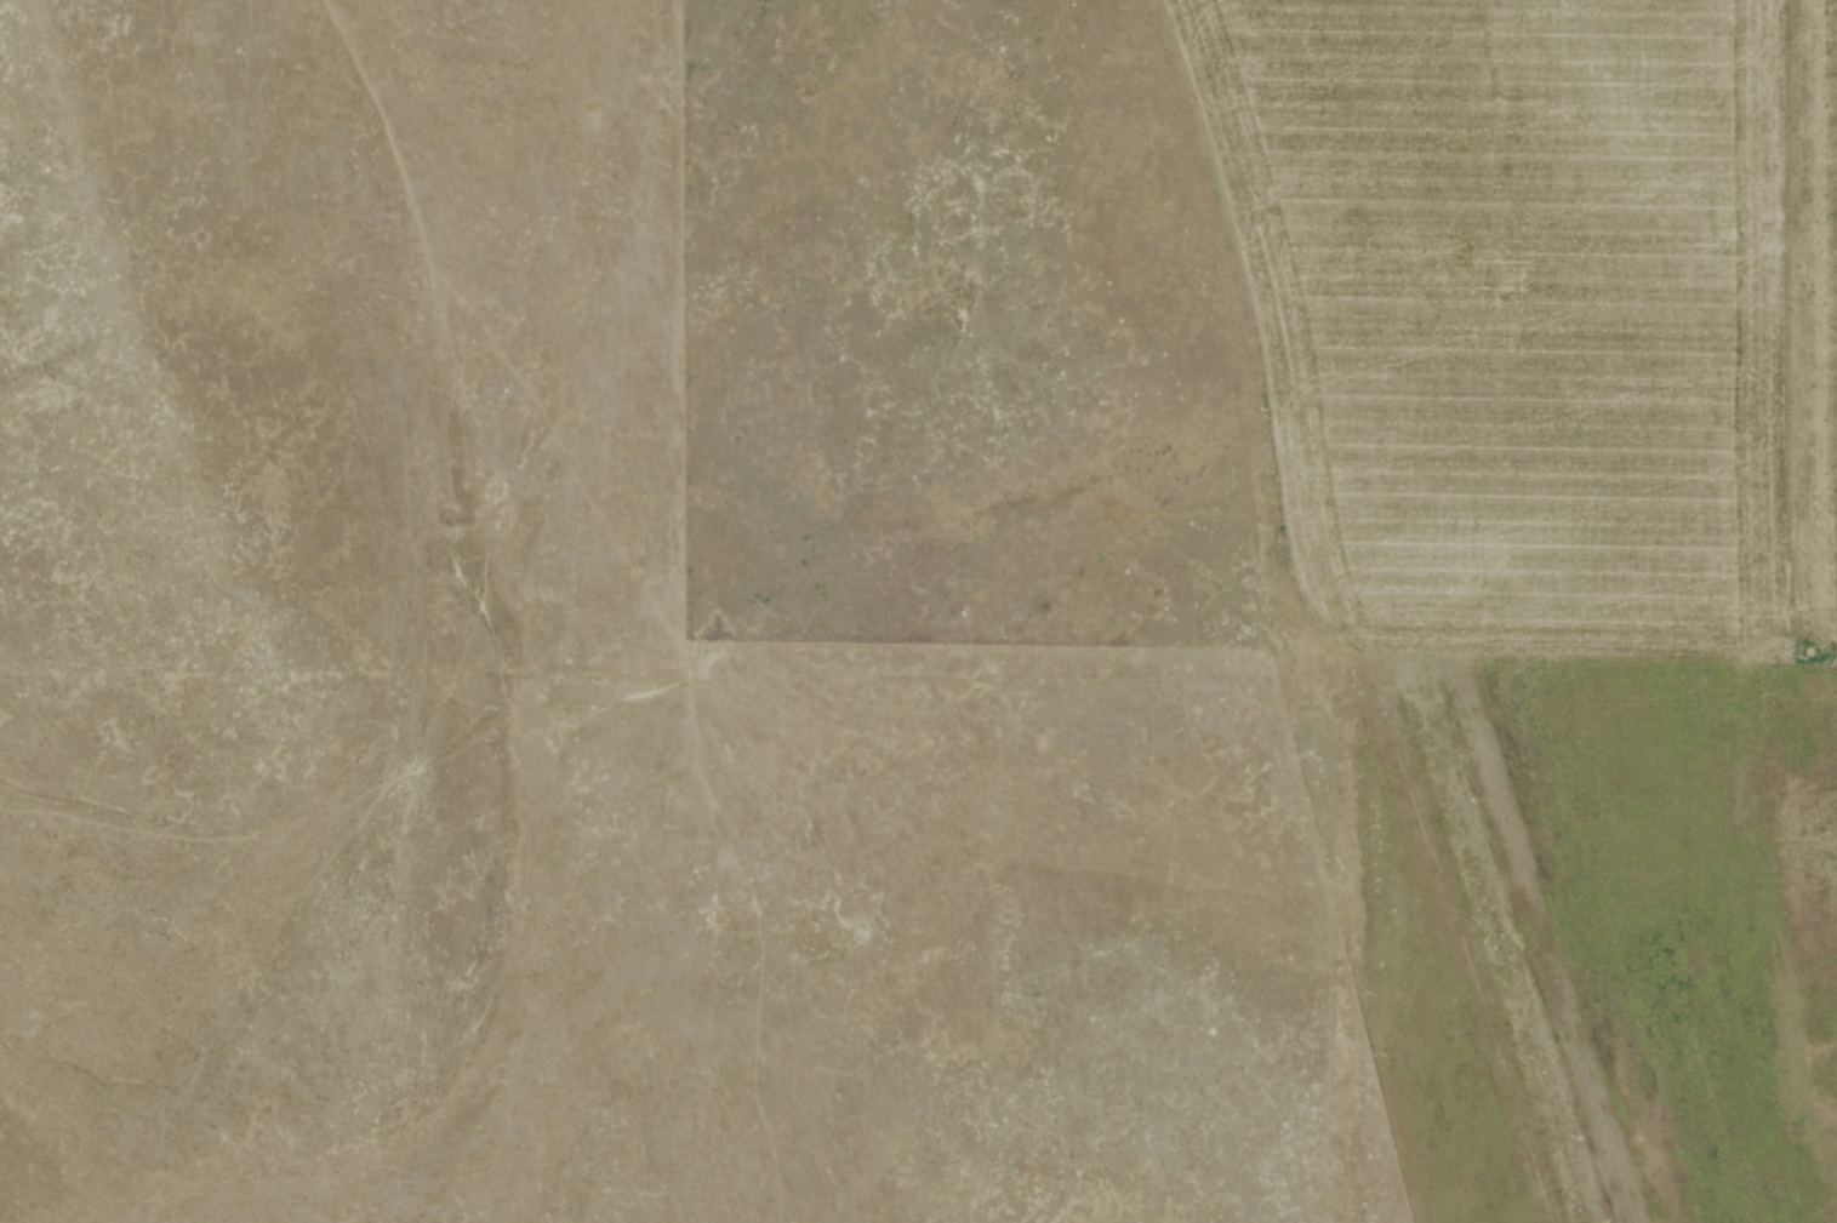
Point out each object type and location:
airport runway: (1524, 939)

